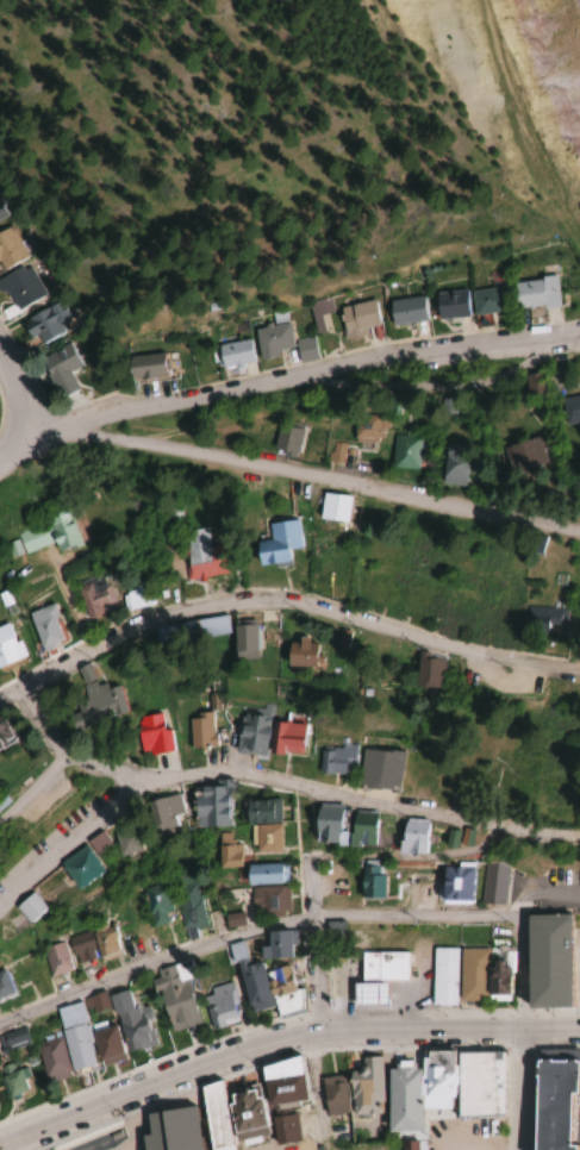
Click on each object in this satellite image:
quarry: (548, 56)
building: (0, 214)
building: (8, 249)
building: (19, 287)
building: (503, 298)
building: (462, 304)
building: (428, 307)
building: (388, 313)
building: (345, 320)
building: (42, 323)
road: (574, 335)
building: (268, 338)
building: (230, 354)
building: (57, 363)
building: (142, 367)
road: (280, 380)
building: (506, 389)
road: (12, 405)
building: (551, 413)
road: (25, 438)
building: (283, 440)
building: (332, 452)
building: (397, 454)
building: (505, 460)
building: (442, 467)
road: (330, 475)
building: (568, 506)
building: (330, 507)
building: (48, 533)
building: (275, 544)
building: (198, 555)
building: (136, 595)
building: (94, 596)
road: (282, 607)
building: (536, 621)
building: (43, 627)
building: (188, 631)
building: (241, 640)
building: (7, 646)
building: (297, 654)
building: (425, 674)
building: (94, 706)
building: (200, 731)
building: (150, 736)
building: (269, 737)
building: (2, 738)
road: (64, 746)
building: (332, 761)
building: (378, 770)
road: (268, 779)
road: (33, 786)
building: (556, 795)
building: (1, 800)
building: (207, 806)
building: (162, 812)
building: (261, 825)
building: (324, 825)
building: (358, 830)
building: (410, 838)
building: (94, 844)
building: (124, 845)
building: (225, 852)
building: (76, 868)
building: (262, 874)
building: (369, 880)
building: (453, 885)
building: (491, 886)
building: (268, 900)
building: (154, 905)
building: (26, 908)
building: (189, 908)
building: (232, 919)
road: (249, 929)
building: (88, 944)
building: (275, 945)
road: (318, 958)
building: (52, 960)
building: (544, 962)
road: (516, 970)
building: (481, 975)
building: (442, 976)
building: (376, 977)
building: (262, 985)
building: (4, 989)
building: (171, 1000)
building: (219, 1006)
building: (130, 1024)
building: (12, 1042)
building: (104, 1043)
road: (281, 1046)
building: (74, 1049)
building: (49, 1058)
building: (10, 1081)
building: (279, 1083)
building: (476, 1085)
building: (364, 1087)
road: (516, 1089)
building: (414, 1090)
building: (331, 1092)
building: (551, 1100)
building: (242, 1112)
building: (211, 1117)
building: (282, 1130)
building: (168, 1131)
building: (337, 1132)
building: (409, 1145)

